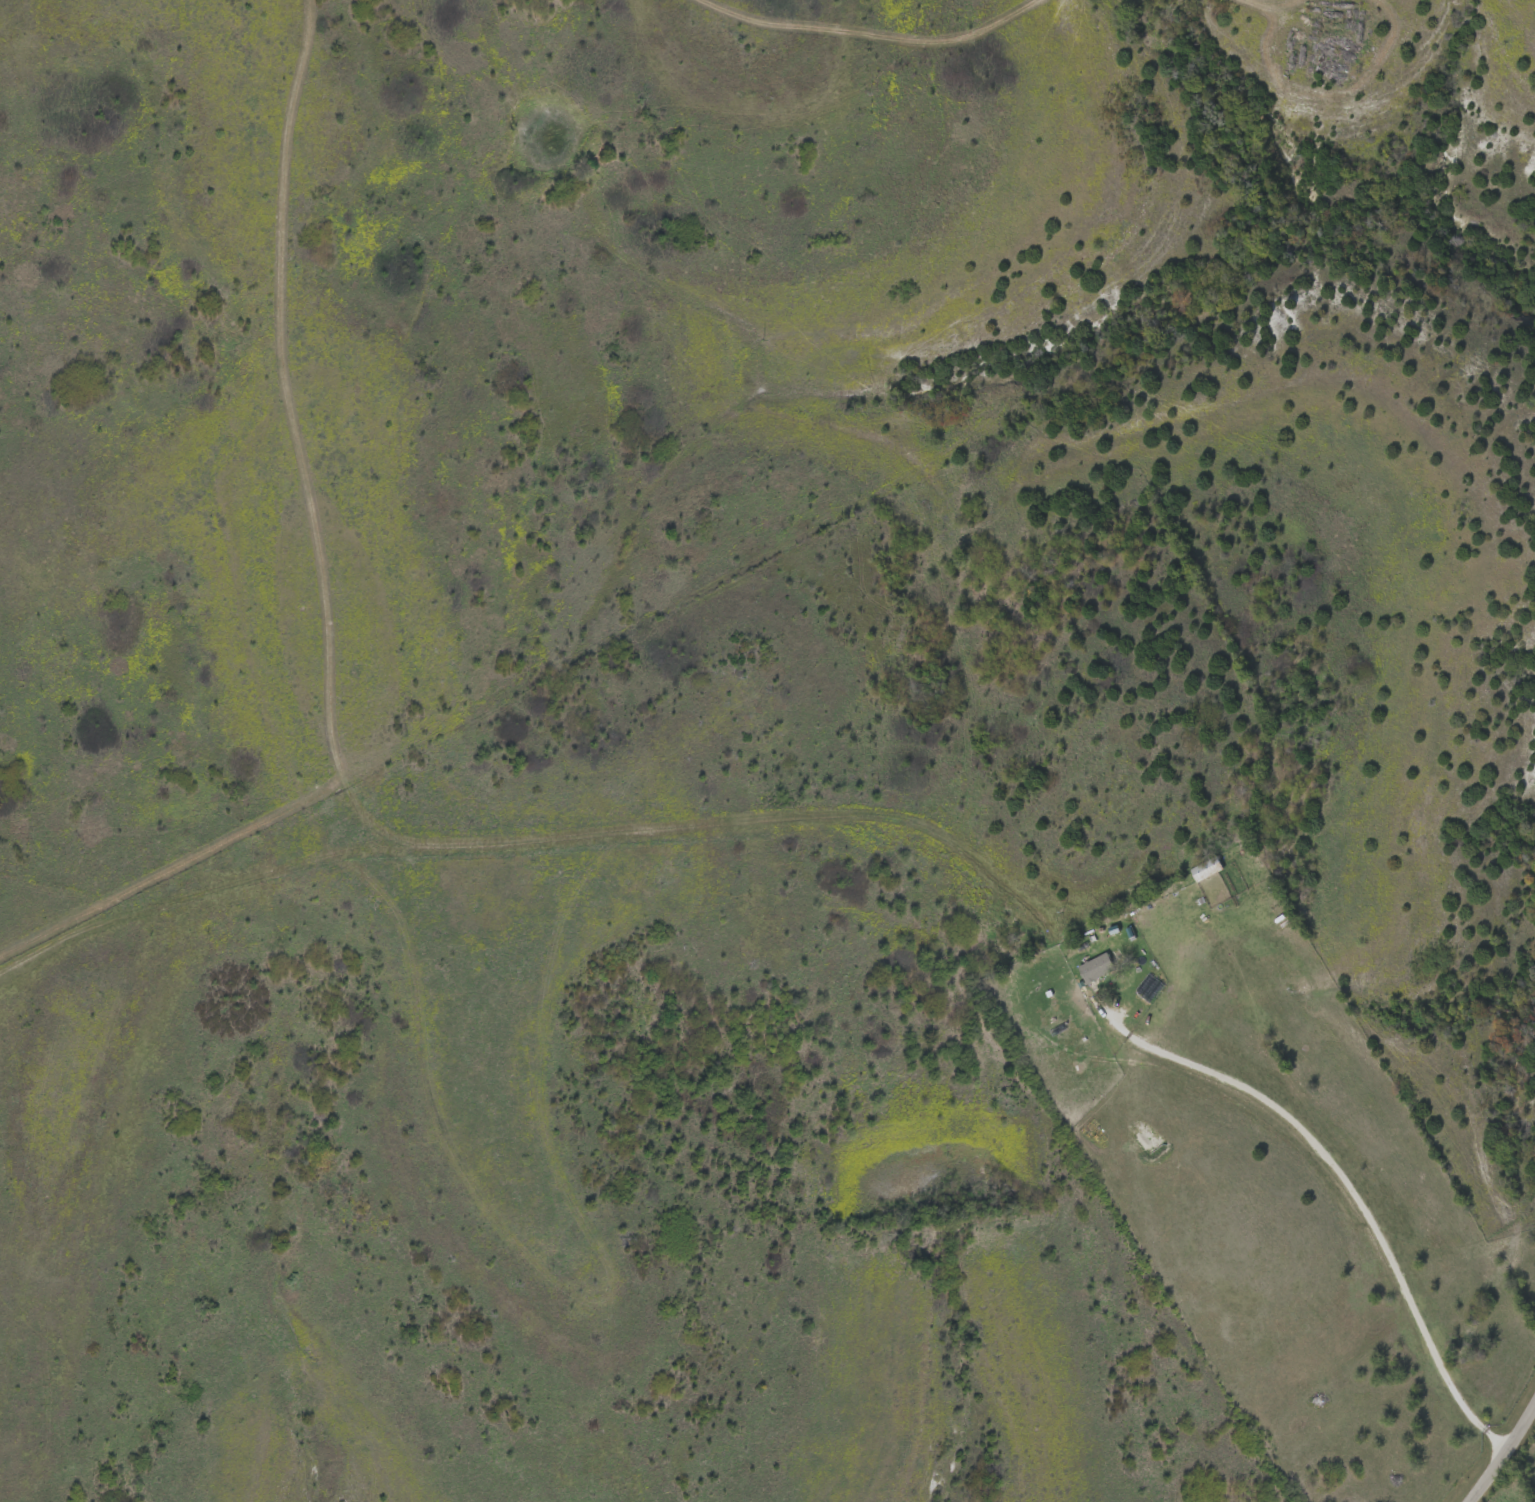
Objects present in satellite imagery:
building: (1203, 869)
building: (1094, 967)
road: (1355, 1202)
road: (1504, 1455)

